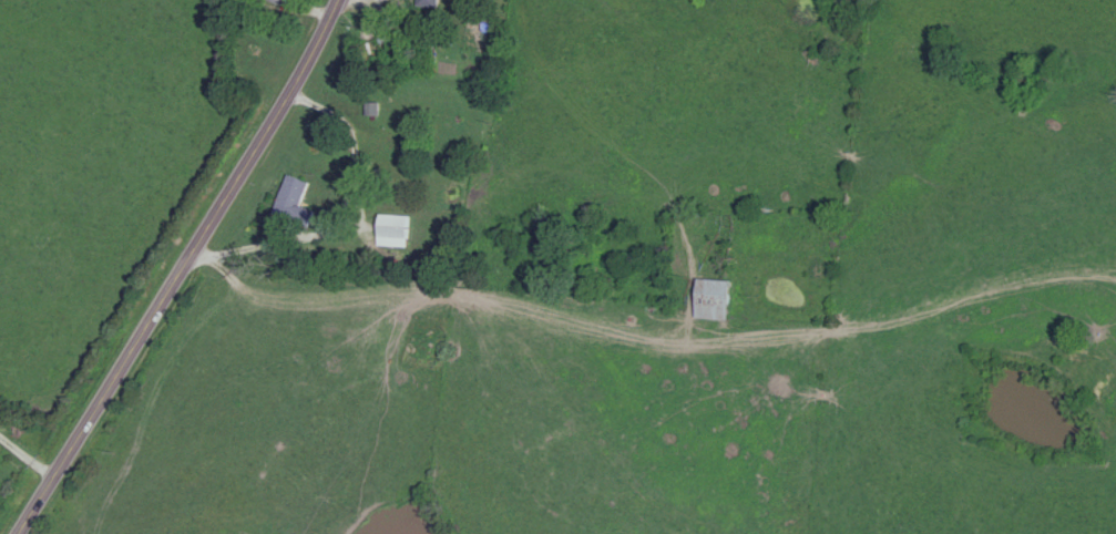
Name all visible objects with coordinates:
building: (276, 2)
building: (427, 4)
building: (294, 205)
building: (391, 227)
road: (183, 268)
building: (711, 300)
road: (29, 459)

